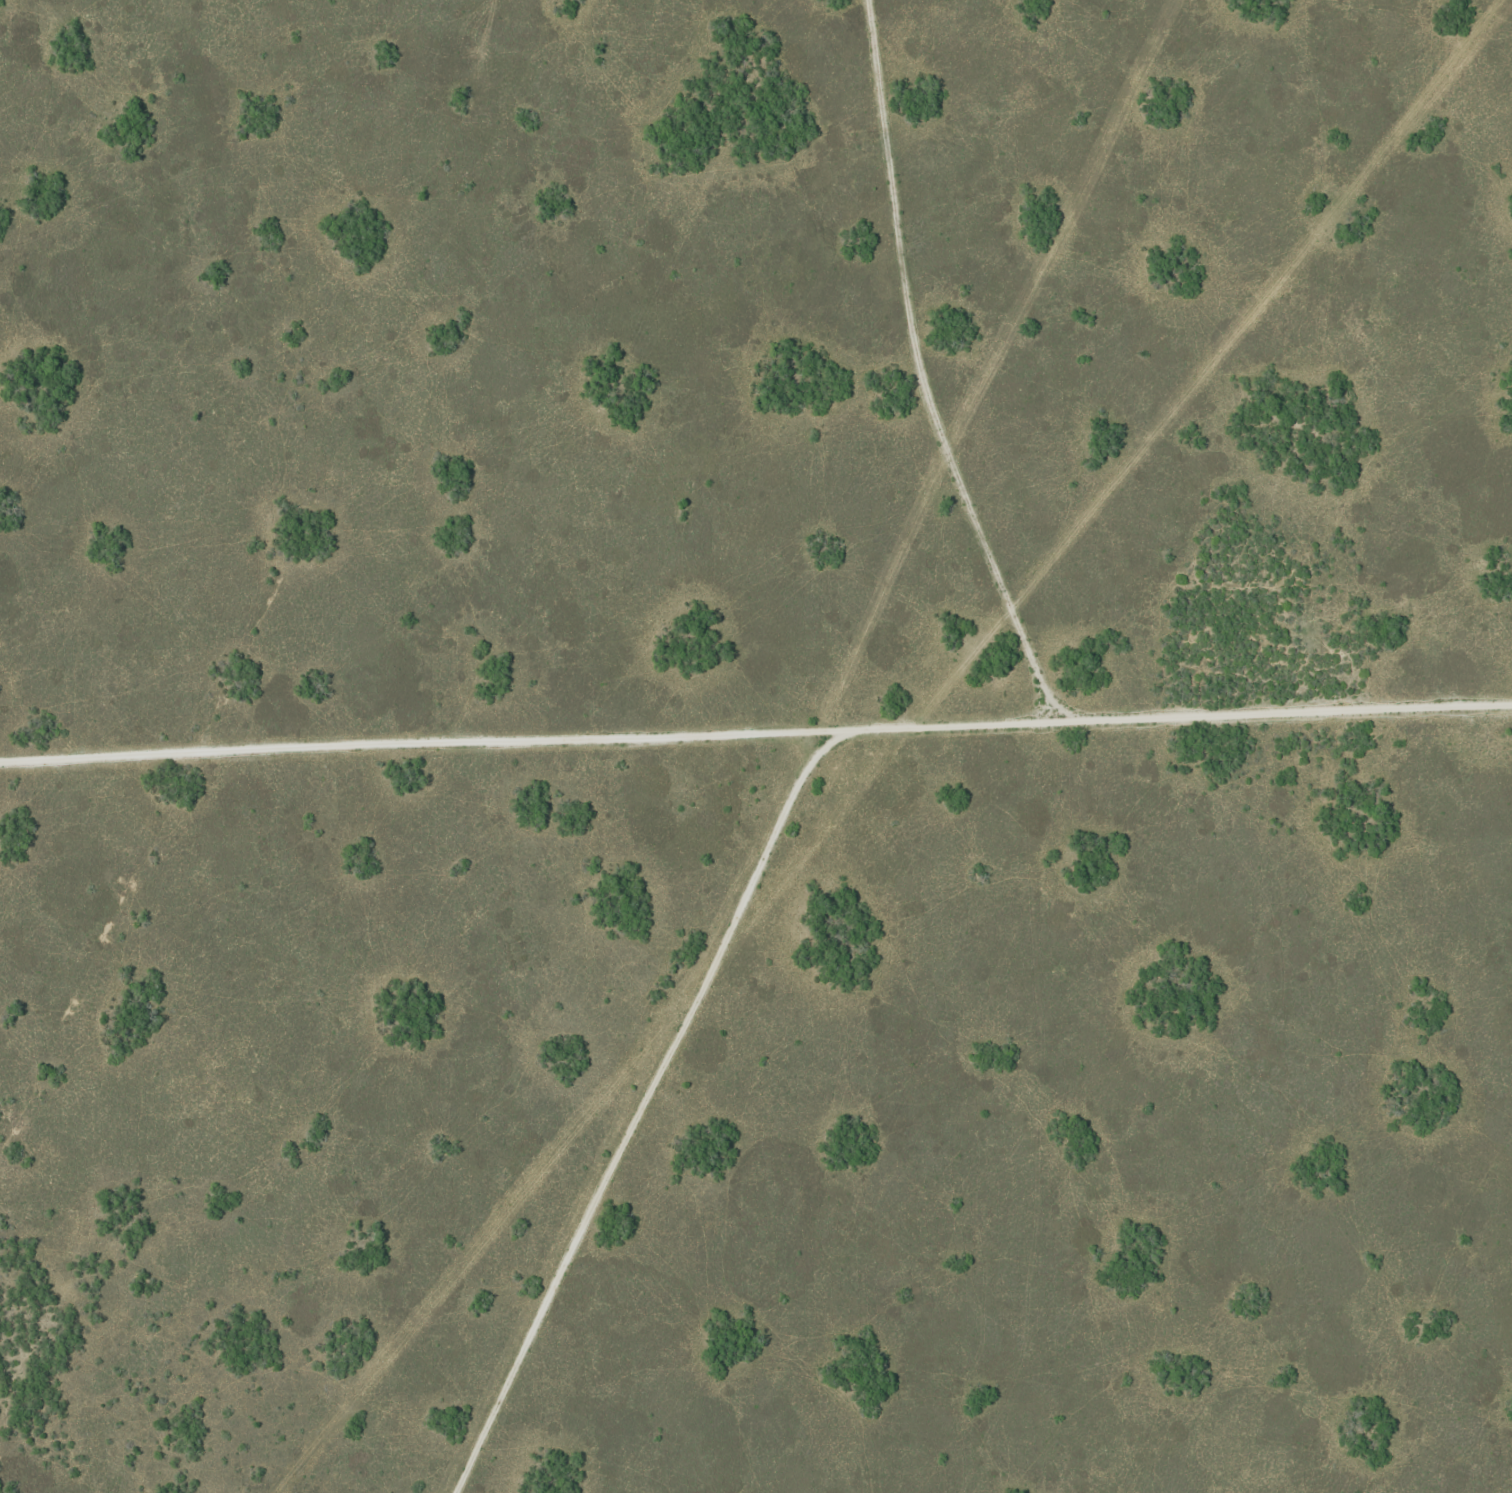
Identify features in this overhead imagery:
road: (756, 735)

